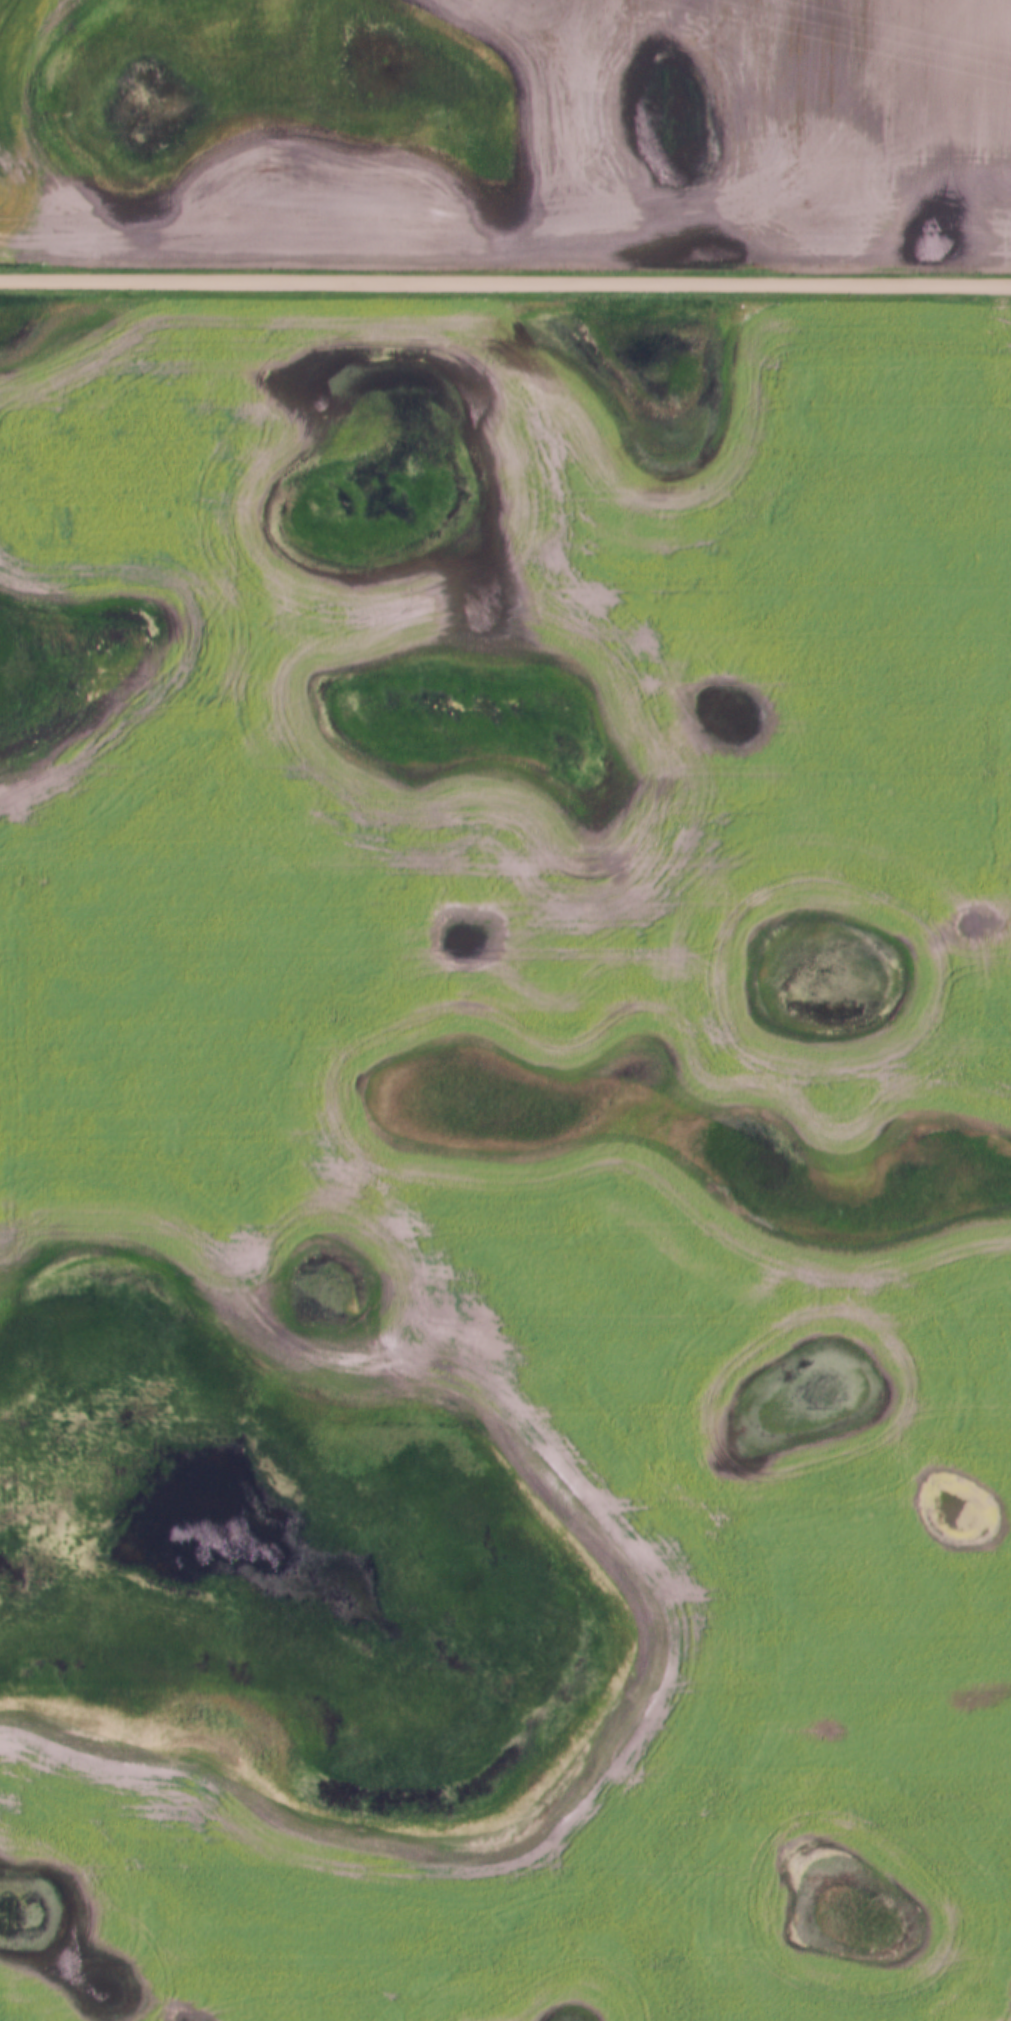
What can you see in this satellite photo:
road: (505, 287)

